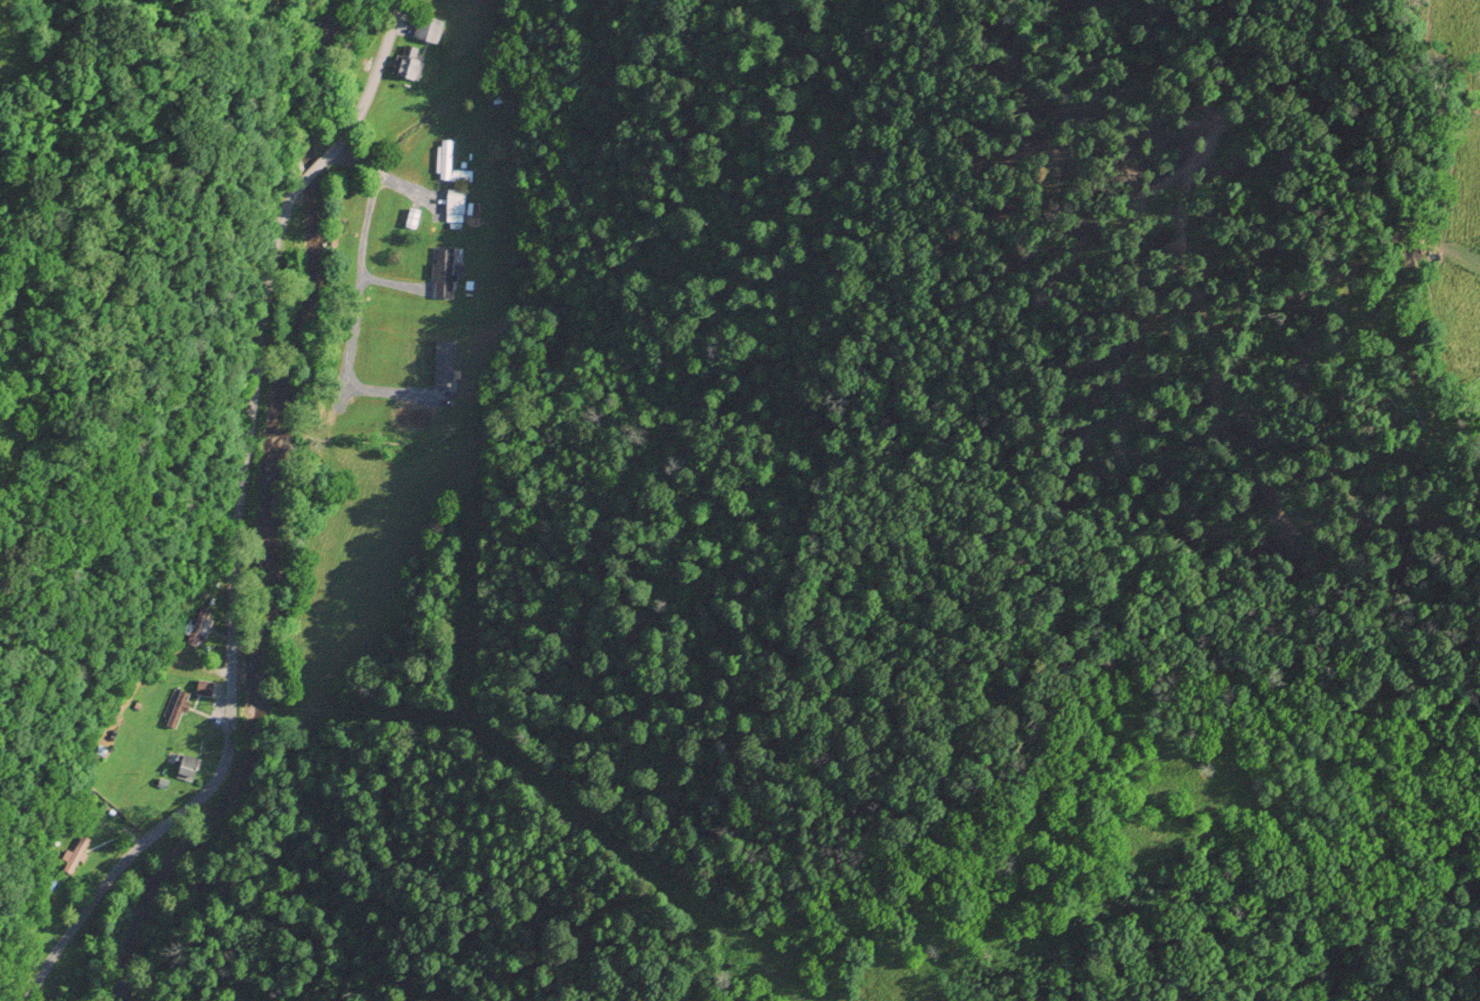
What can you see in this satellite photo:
building: (429, 28)
building: (406, 67)
road: (372, 85)
building: (445, 159)
road: (313, 170)
building: (461, 175)
road: (384, 177)
building: (455, 201)
road: (360, 255)
building: (443, 272)
road: (230, 624)
building: (197, 625)
building: (203, 686)
building: (176, 709)
building: (186, 767)
building: (161, 783)
building: (75, 854)

